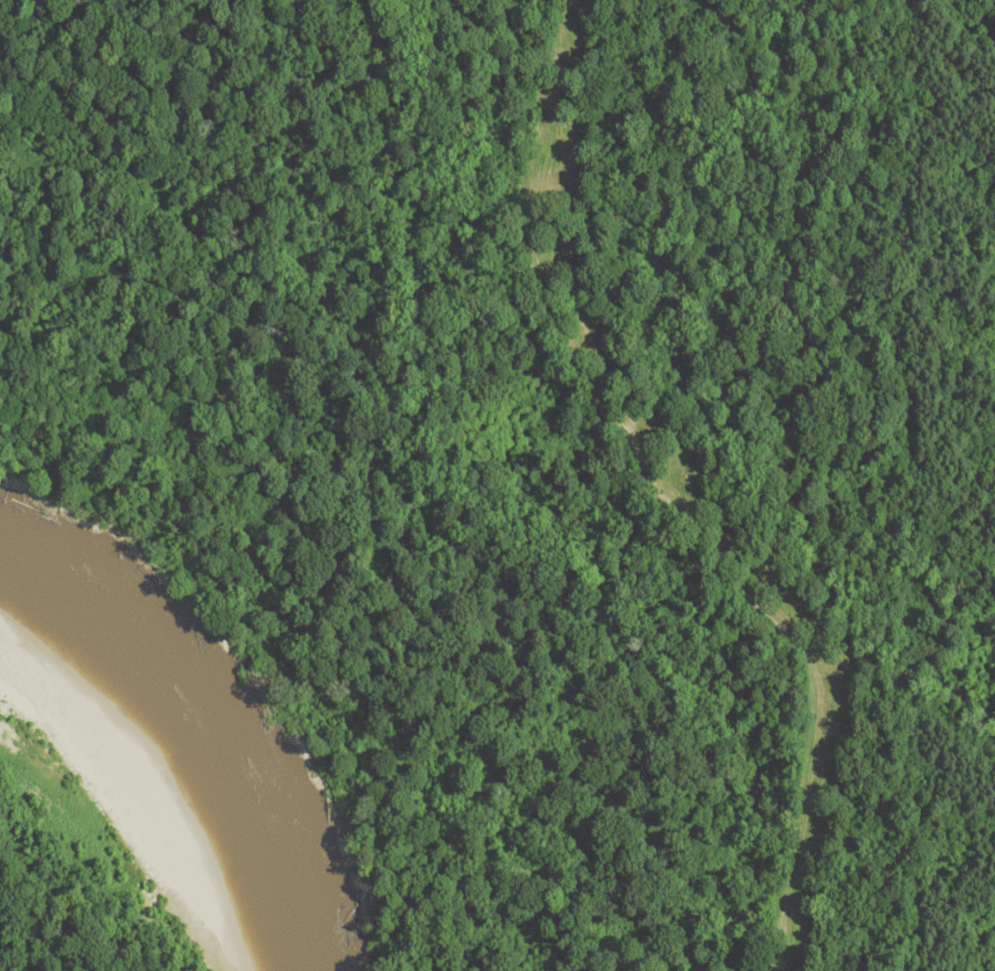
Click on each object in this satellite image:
river: (170, 770)

